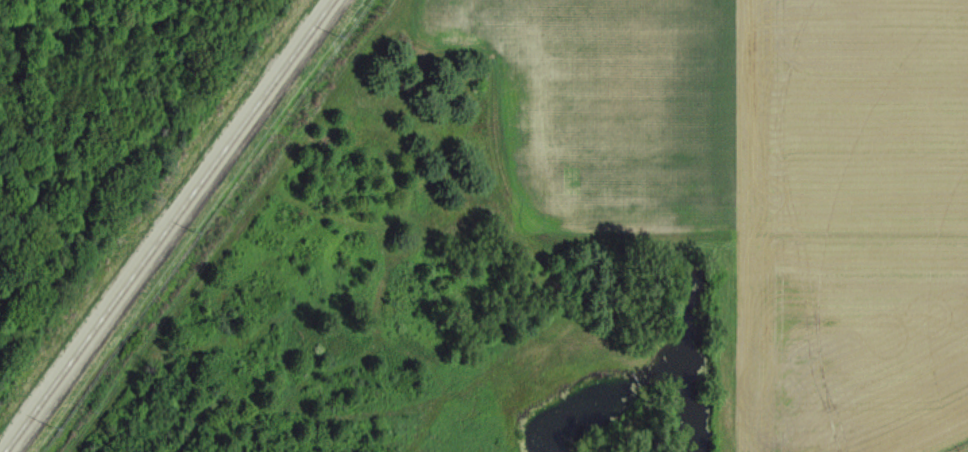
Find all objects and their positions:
railway: (171, 226)

